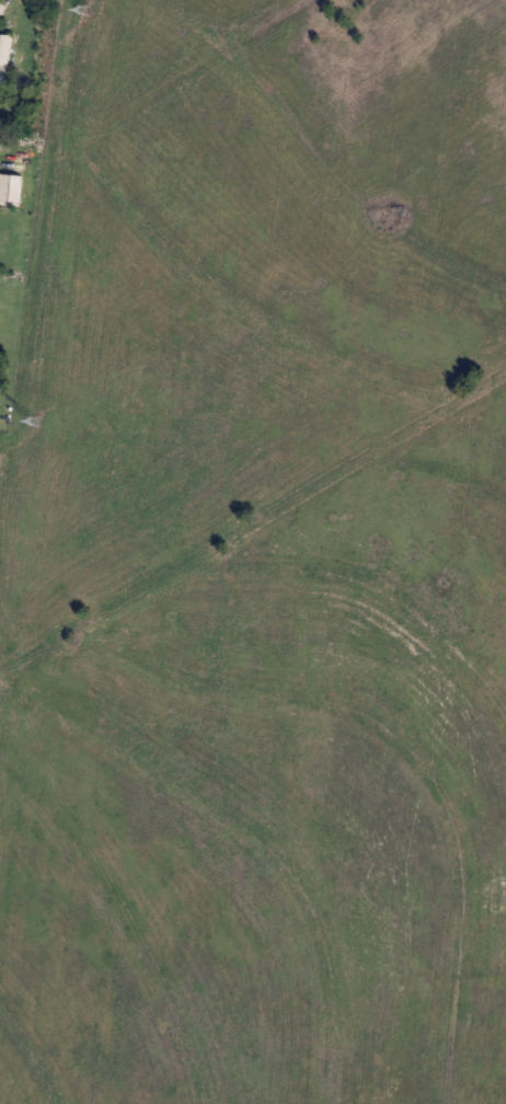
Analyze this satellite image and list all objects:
power tower: (84, 10)
building: (4, 53)
building: (10, 188)
railway: (42, 365)
power tower: (37, 421)

